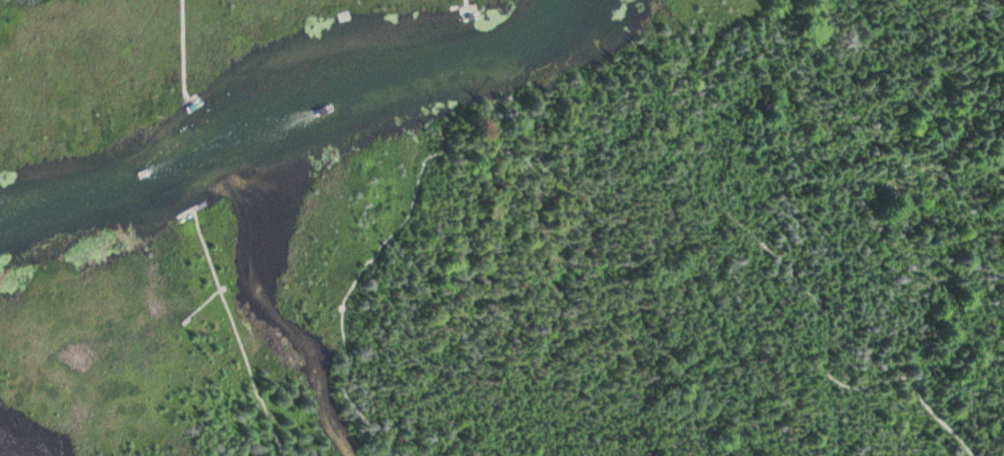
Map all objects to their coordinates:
road: (498, 99)
road: (510, 103)
road: (489, 106)
road: (606, 113)
river: (289, 118)
pier: (187, 209)
road: (202, 304)
road: (236, 332)

